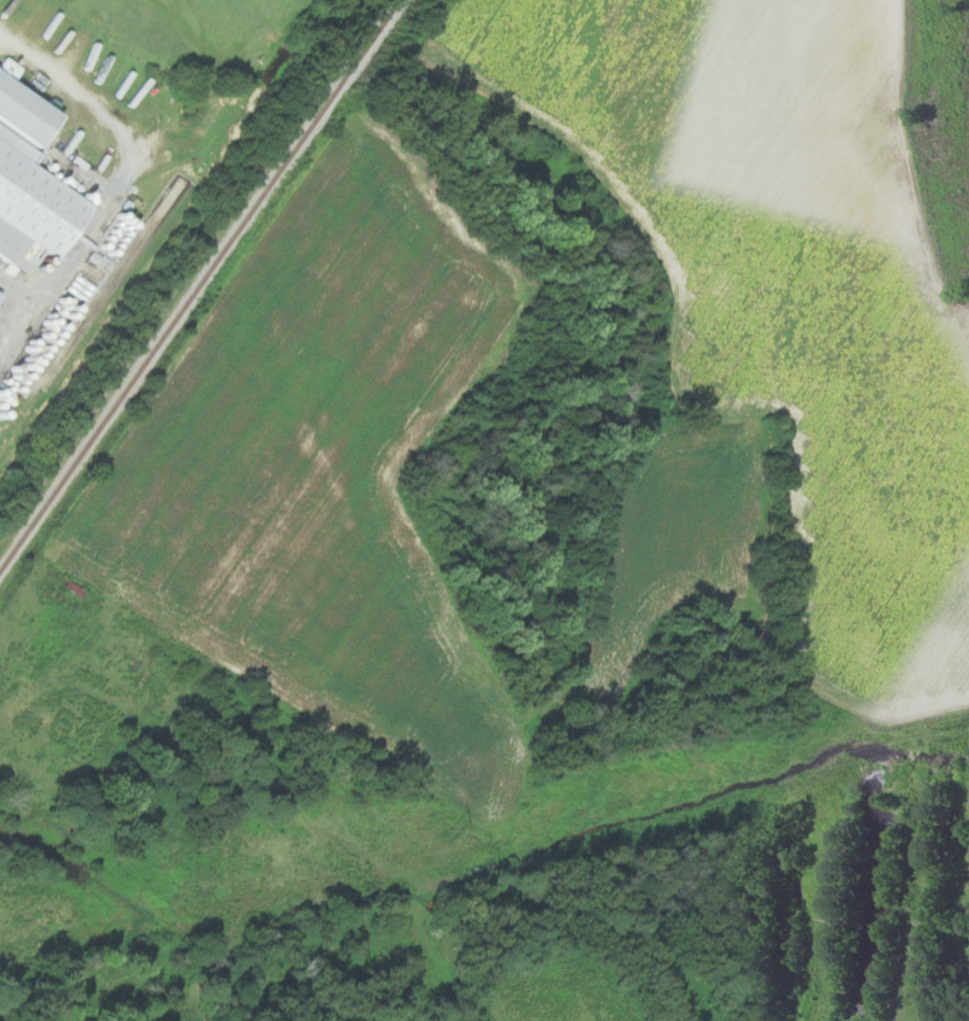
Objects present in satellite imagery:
building: (31, 179)
road: (118, 180)
railway: (197, 285)
railway: (89, 309)
power tower: (950, 733)
power tower: (451, 833)

